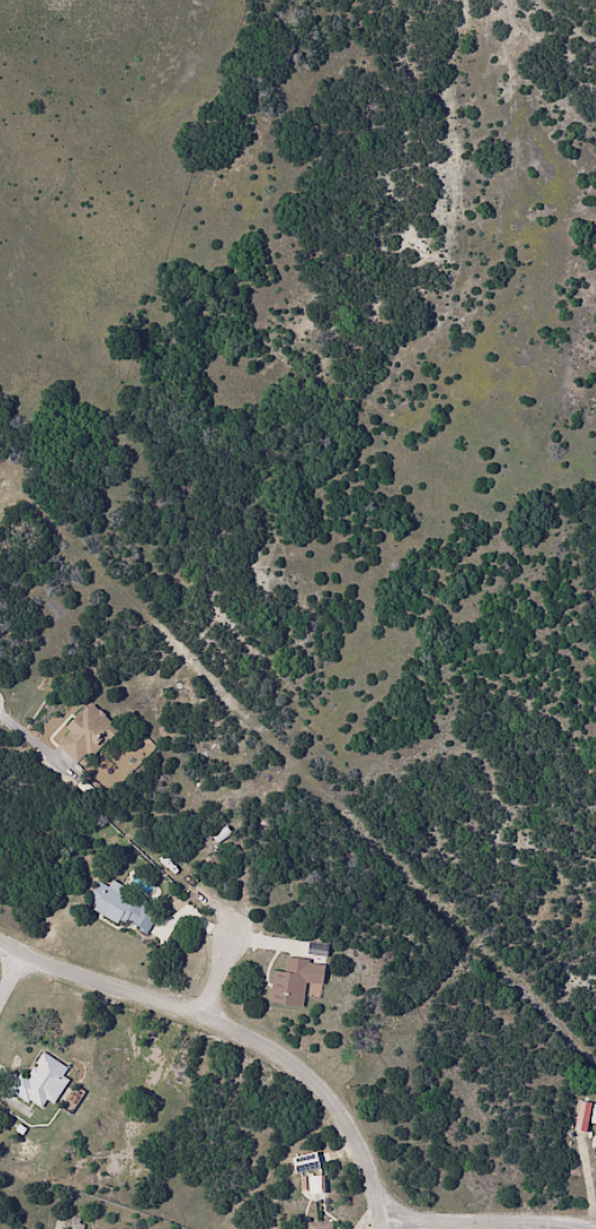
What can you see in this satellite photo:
building: (84, 735)
building: (130, 916)
road: (234, 975)
road: (14, 979)
building: (303, 989)
road: (241, 1027)
building: (40, 1081)
building: (589, 1120)
building: (315, 1183)
road: (483, 1216)
building: (316, 1224)

